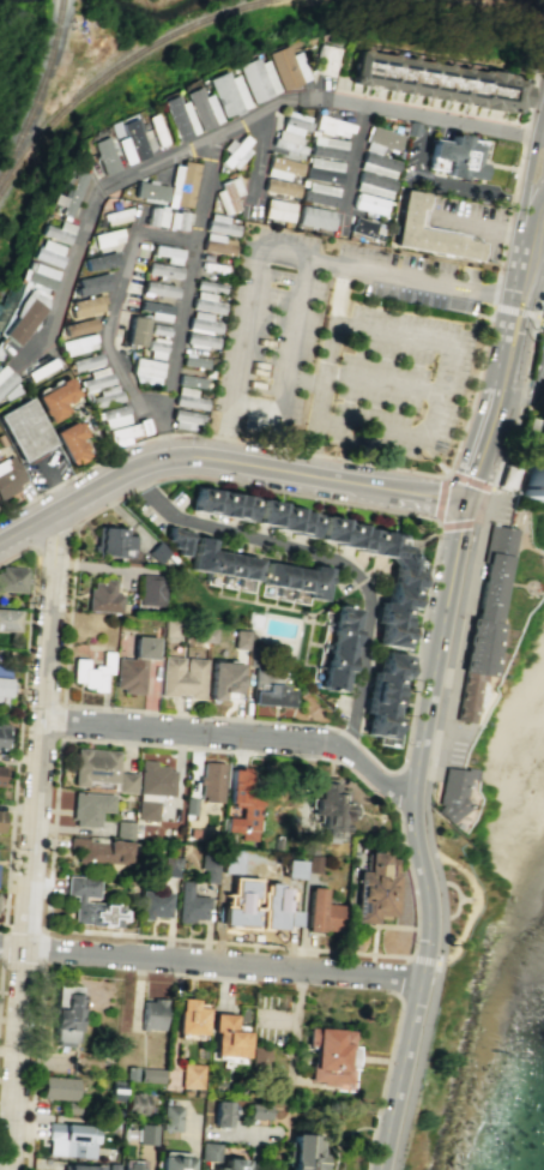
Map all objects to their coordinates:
railway: (61, 4)
park: (168, 6)
building: (325, 60)
building: (288, 66)
railway: (110, 68)
building: (439, 77)
building: (258, 78)
building: (228, 92)
railway: (36, 98)
building: (200, 108)
road: (437, 108)
building: (177, 116)
road: (44, 120)
building: (332, 126)
building: (153, 130)
road: (220, 131)
building: (292, 133)
road: (540, 136)
building: (127, 138)
building: (381, 139)
building: (327, 146)
road: (260, 154)
building: (103, 155)
parking lot: (417, 156)
building: (455, 156)
road: (356, 157)
road: (533, 158)
building: (377, 164)
building: (283, 167)
building: (322, 169)
building: (181, 184)
building: (374, 184)
road: (445, 184)
building: (280, 187)
building: (150, 191)
building: (71, 192)
building: (319, 193)
building: (226, 196)
road: (533, 199)
building: (369, 203)
building: (278, 210)
building: (315, 217)
parking lot: (471, 221)
building: (219, 224)
road: (479, 226)
building: (367, 227)
building: (58, 232)
building: (434, 234)
building: (108, 238)
building: (217, 244)
building: (48, 252)
road: (286, 254)
road: (516, 258)
building: (101, 260)
road: (540, 266)
building: (163, 270)
road: (497, 271)
building: (40, 274)
road: (530, 275)
road: (540, 280)
building: (92, 283)
road: (528, 283)
building: (207, 286)
building: (159, 288)
road: (344, 295)
road: (183, 296)
road: (533, 300)
building: (205, 302)
road: (539, 302)
road: (115, 304)
building: (86, 305)
road: (518, 308)
building: (156, 310)
road: (504, 310)
road: (524, 313)
road: (532, 314)
building: (201, 322)
building: (78, 326)
building: (158, 329)
road: (513, 329)
building: (135, 330)
road: (292, 331)
building: (543, 331)
power tower: (532, 337)
road: (419, 338)
building: (200, 340)
building: (77, 343)
parking lot: (343, 347)
building: (155, 348)
building: (84, 361)
building: (145, 371)
road: (503, 371)
building: (95, 378)
road: (388, 380)
road: (306, 382)
building: (5, 383)
building: (543, 385)
road: (531, 392)
building: (104, 396)
building: (53, 398)
road: (512, 402)
road: (519, 403)
building: (113, 416)
building: (182, 419)
building: (23, 428)
building: (126, 432)
road: (225, 433)
road: (213, 437)
building: (69, 442)
road: (480, 449)
road: (167, 456)
building: (533, 468)
building: (8, 475)
road: (409, 492)
road: (441, 492)
road: (482, 496)
building: (219, 503)
road: (472, 504)
parking lot: (158, 506)
road: (477, 514)
building: (283, 517)
building: (176, 539)
building: (111, 541)
building: (156, 552)
road: (325, 556)
building: (219, 560)
building: (11, 578)
building: (295, 578)
road: (361, 581)
building: (401, 583)
building: (150, 589)
building: (102, 595)
road: (333, 599)
road: (310, 611)
building: (484, 618)
building: (8, 619)
building: (252, 619)
building: (170, 626)
building: (203, 635)
road: (463, 635)
building: (238, 638)
building: (337, 647)
building: (134, 665)
building: (2, 670)
building: (92, 672)
building: (181, 677)
road: (445, 677)
building: (222, 679)
building: (2, 689)
building: (267, 690)
building: (386, 698)
road: (20, 719)
road: (61, 721)
road: (409, 727)
building: (1, 732)
road: (238, 737)
parking lot: (458, 743)
road: (217, 750)
road: (431, 751)
building: (93, 766)
building: (0, 768)
road: (428, 770)
building: (210, 780)
building: (126, 781)
building: (151, 787)
road: (397, 791)
building: (454, 797)
building: (241, 803)
building: (89, 806)
building: (331, 806)
building: (189, 808)
building: (0, 818)
building: (192, 832)
road: (415, 836)
road: (35, 840)
building: (274, 842)
building: (306, 842)
building: (103, 846)
road: (430, 846)
building: (230, 860)
building: (313, 863)
building: (169, 865)
building: (207, 865)
building: (291, 869)
building: (375, 887)
building: (89, 901)
park: (467, 901)
road: (470, 902)
building: (152, 904)
building: (188, 904)
building: (238, 905)
building: (276, 907)
building: (320, 912)
road: (379, 925)
road: (225, 942)
road: (416, 959)
road: (430, 961)
road: (211, 962)
road: (43, 966)
road: (403, 976)
road: (238, 980)
building: (152, 1013)
building: (64, 1014)
building: (189, 1016)
building: (228, 1036)
building: (328, 1055)
building: (258, 1058)
road: (35, 1068)
building: (129, 1073)
building: (150, 1075)
building: (189, 1075)
road: (383, 1075)
building: (58, 1087)
building: (114, 1090)
building: (134, 1103)
building: (73, 1108)
building: (256, 1111)
building: (219, 1112)
building: (170, 1117)
building: (146, 1133)
building: (69, 1139)
building: (207, 1151)
building: (301, 1153)
building: (173, 1162)
building: (132, 1164)
building: (230, 1164)
building: (78, 1166)
building: (111, 1166)
building: (47, 1169)

